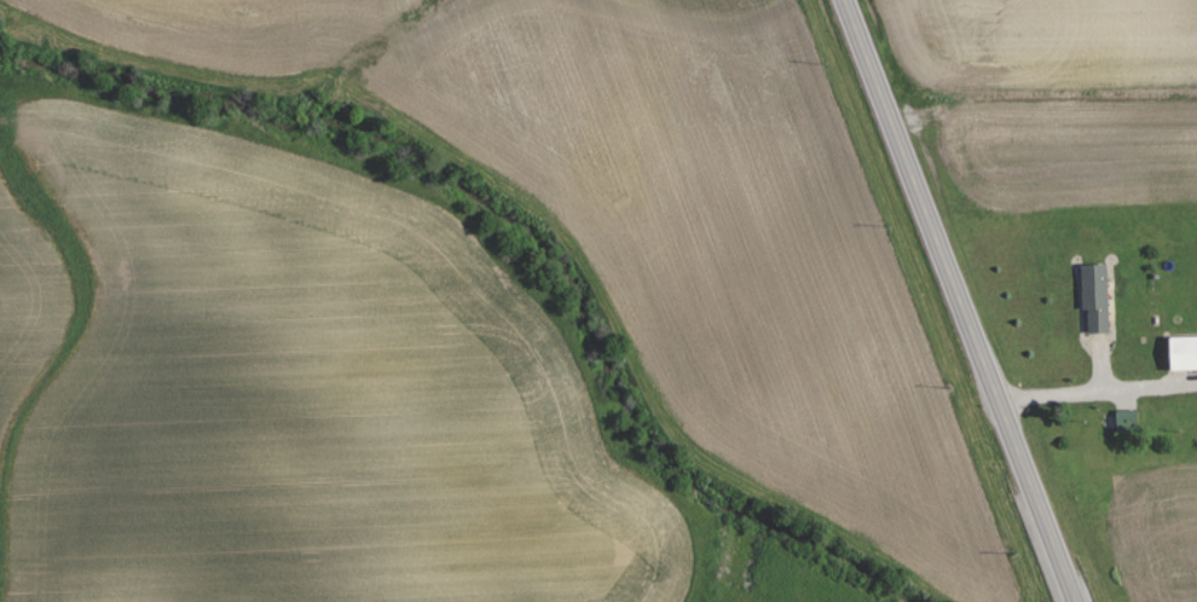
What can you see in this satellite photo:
building: (1097, 296)
road: (959, 301)
building: (1184, 352)
road: (1097, 392)
building: (1128, 419)

